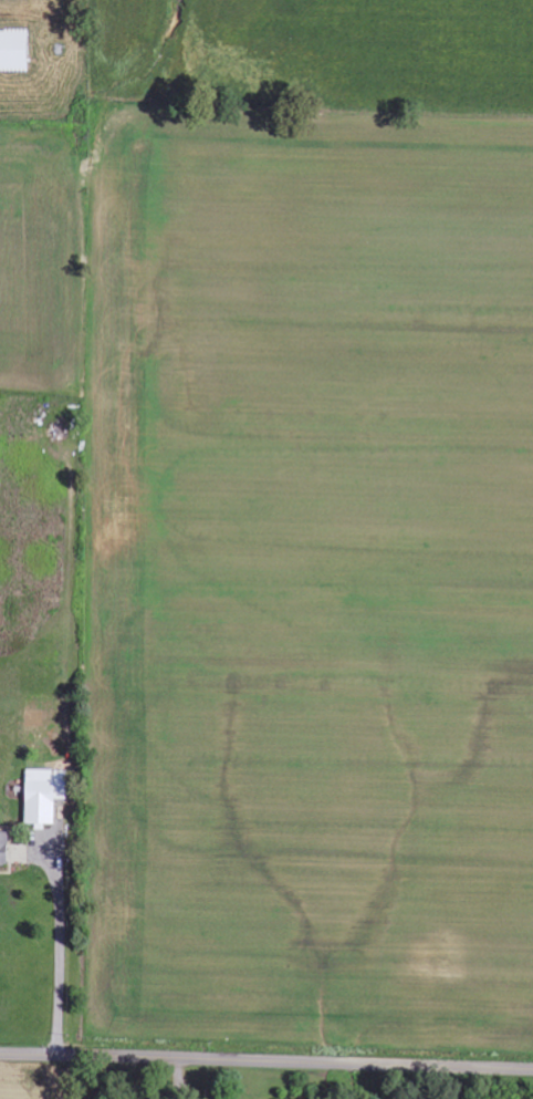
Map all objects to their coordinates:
building: (13, 51)
building: (43, 800)
building: (3, 851)
road: (266, 1061)

